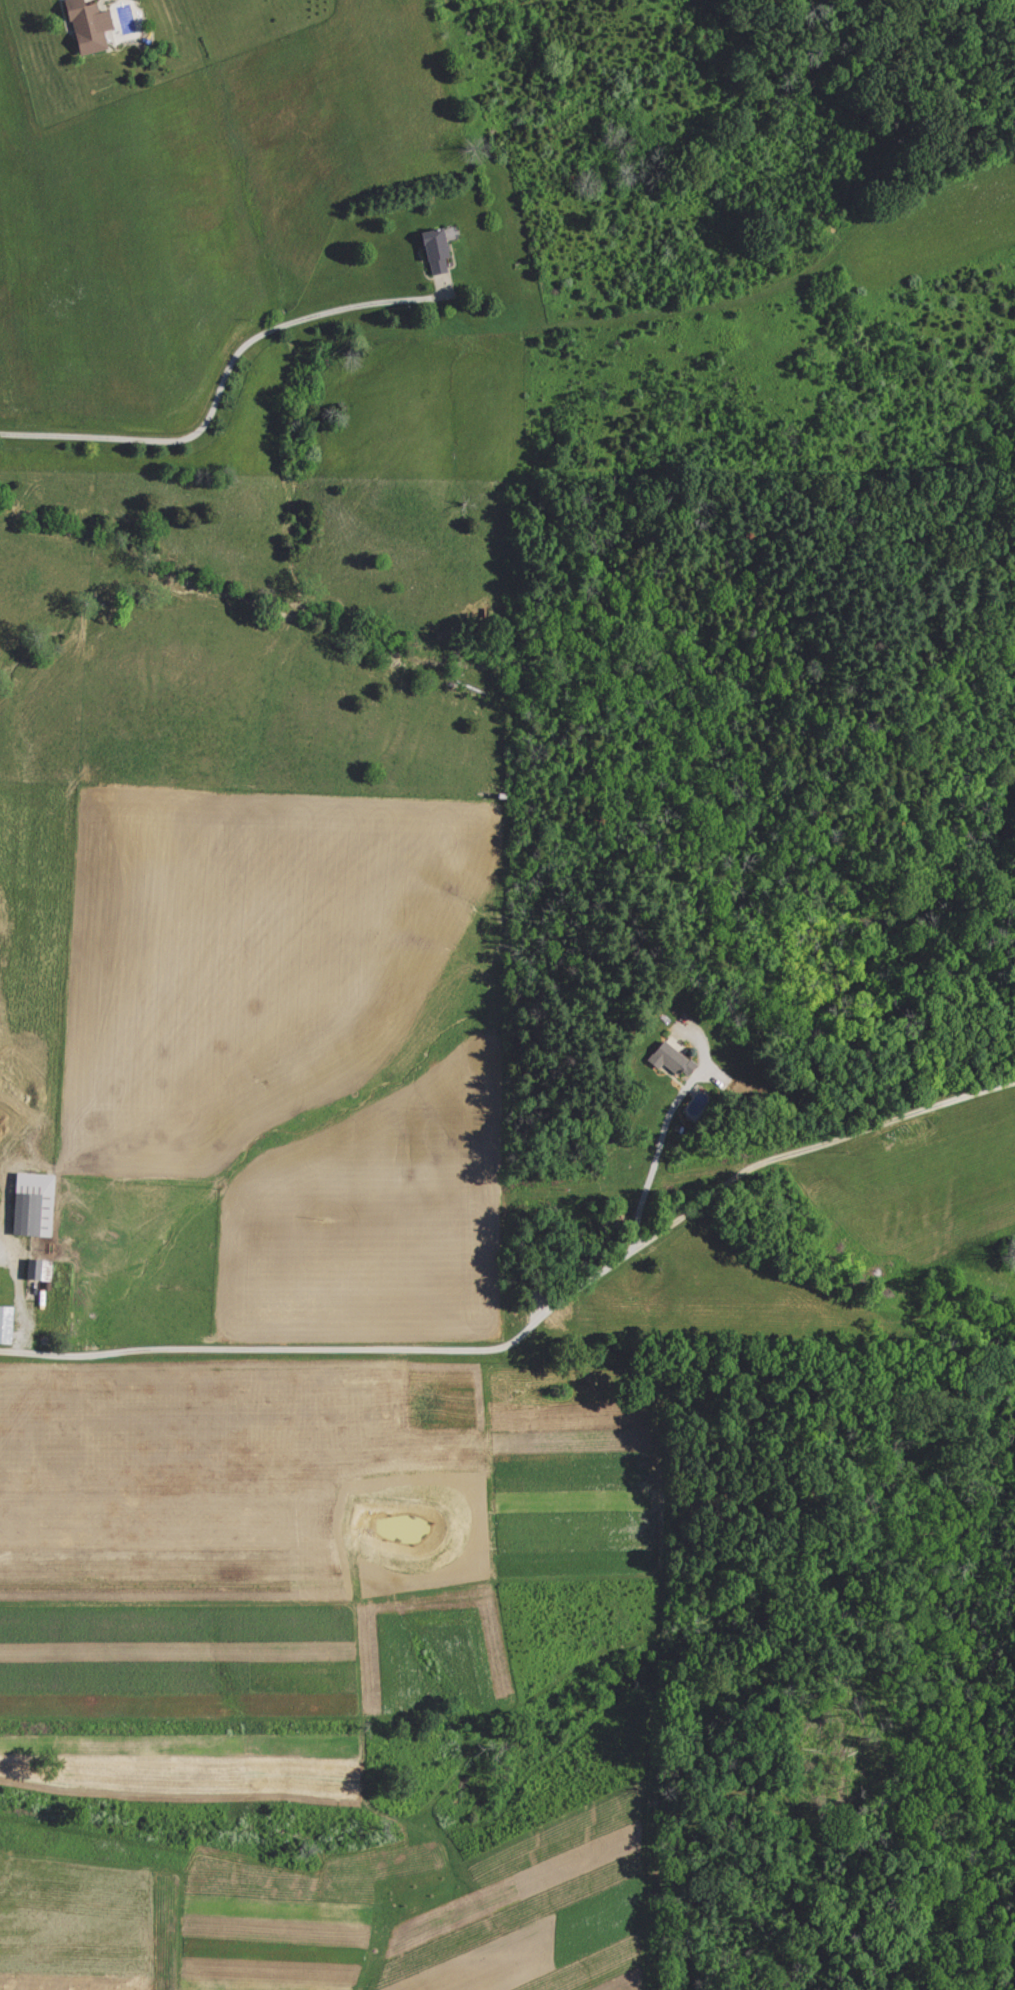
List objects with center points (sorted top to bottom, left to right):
building: (94, 26)
building: (434, 246)
road: (219, 379)
building: (666, 1058)
road: (654, 1155)
building: (38, 1205)
building: (42, 1270)
road: (18, 1298)
road: (536, 1322)

